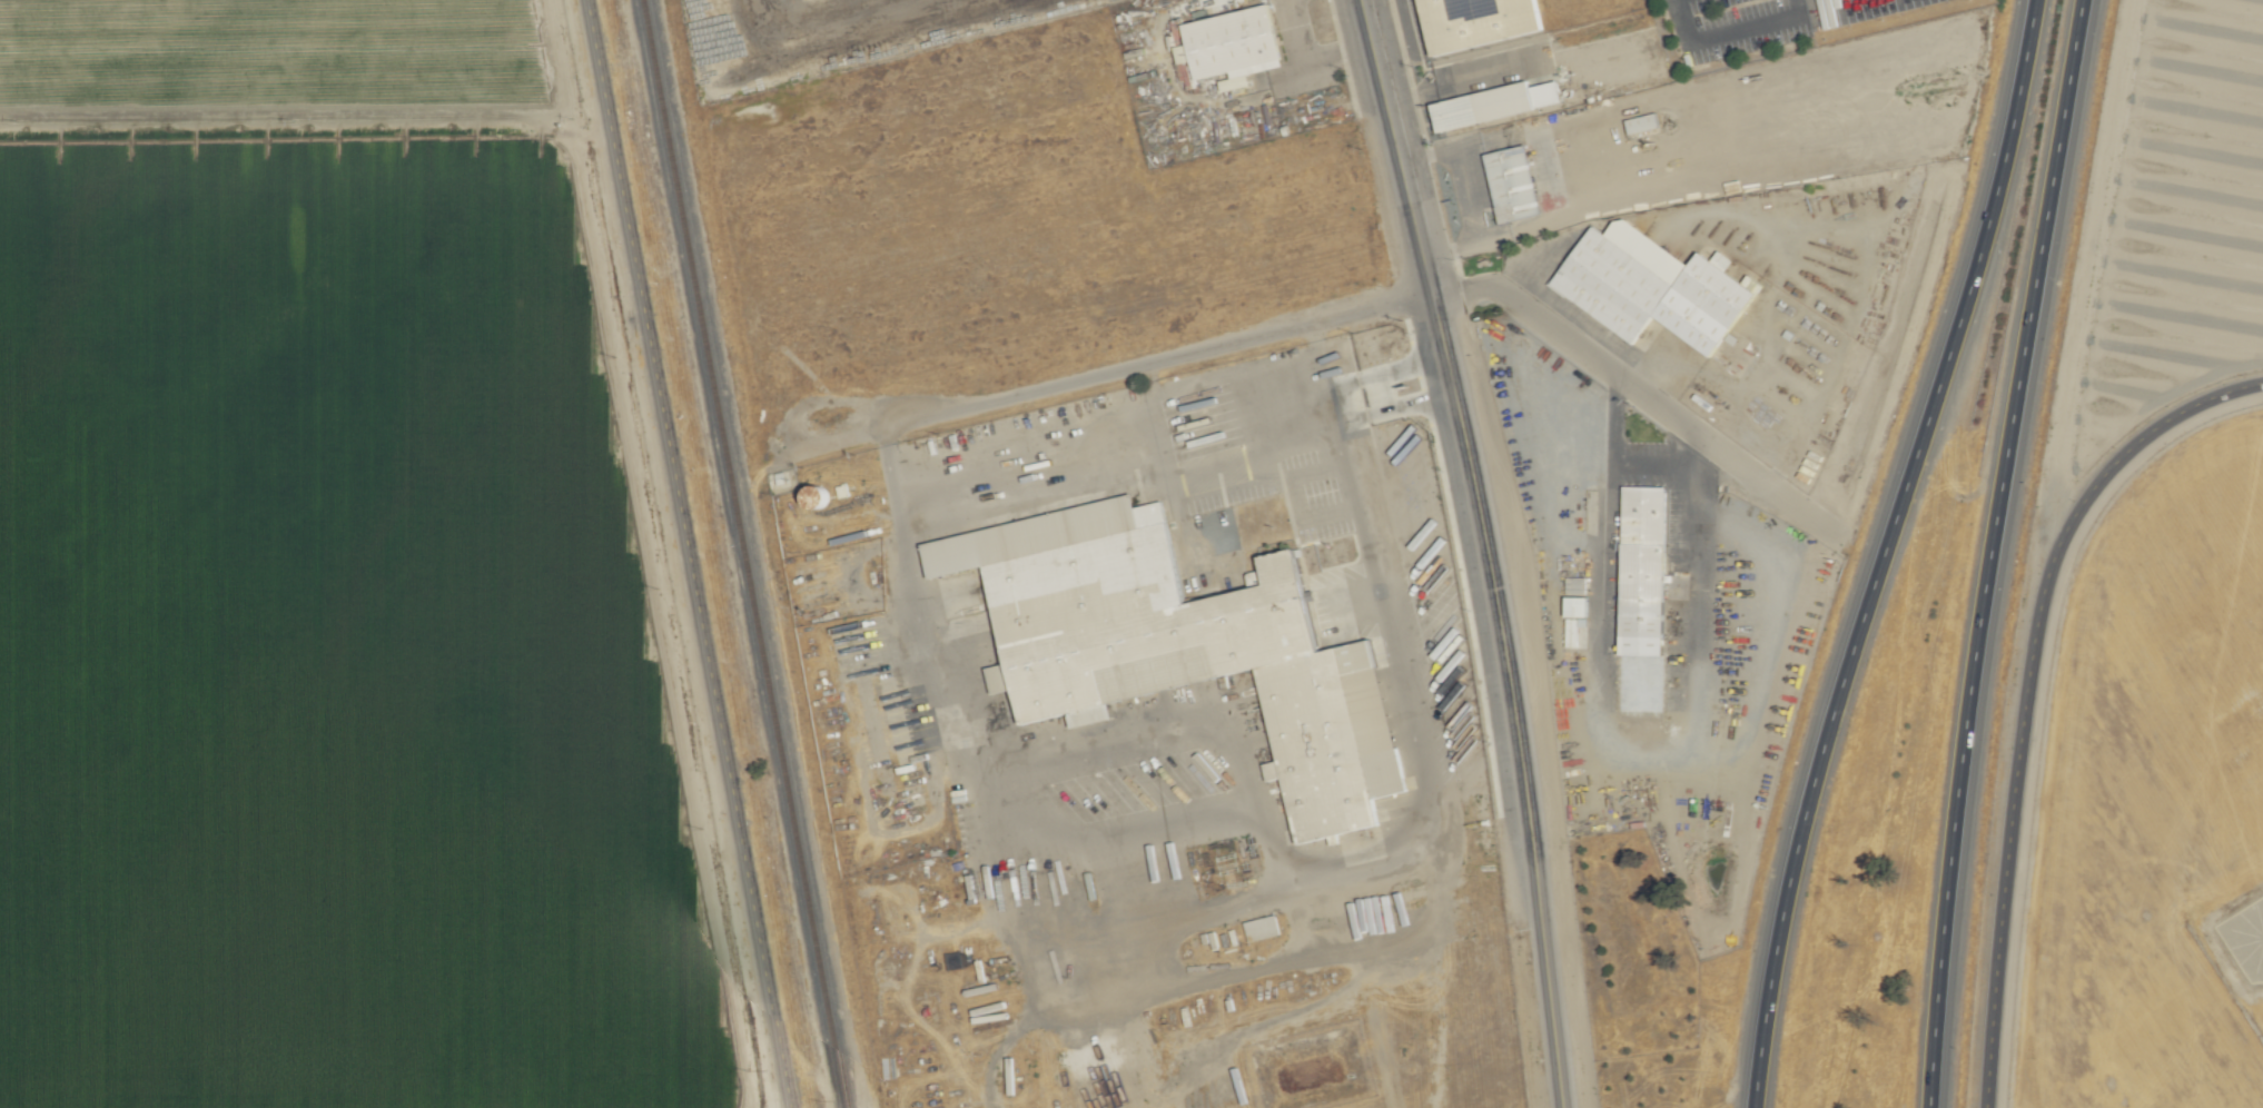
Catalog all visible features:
building: (1416, 0)
building: (1824, 13)
road: (1728, 33)
building: (1223, 46)
road: (1303, 61)
road: (1466, 78)
building: (1488, 103)
building: (1637, 122)
road: (1395, 145)
building: (1508, 184)
road: (1469, 192)
building: (1718, 299)
road: (1121, 368)
road: (1437, 378)
road: (1642, 392)
road: (1377, 394)
road: (1621, 465)
building: (1632, 518)
road: (1881, 551)
road: (1990, 552)
road: (686, 554)
railway: (743, 554)
building: (1570, 606)
road: (1598, 654)
building: (1306, 667)
road: (2026, 689)
road: (1510, 696)
road: (1718, 752)
airport: (2154, 798)
road: (1051, 840)
building: (1263, 927)

